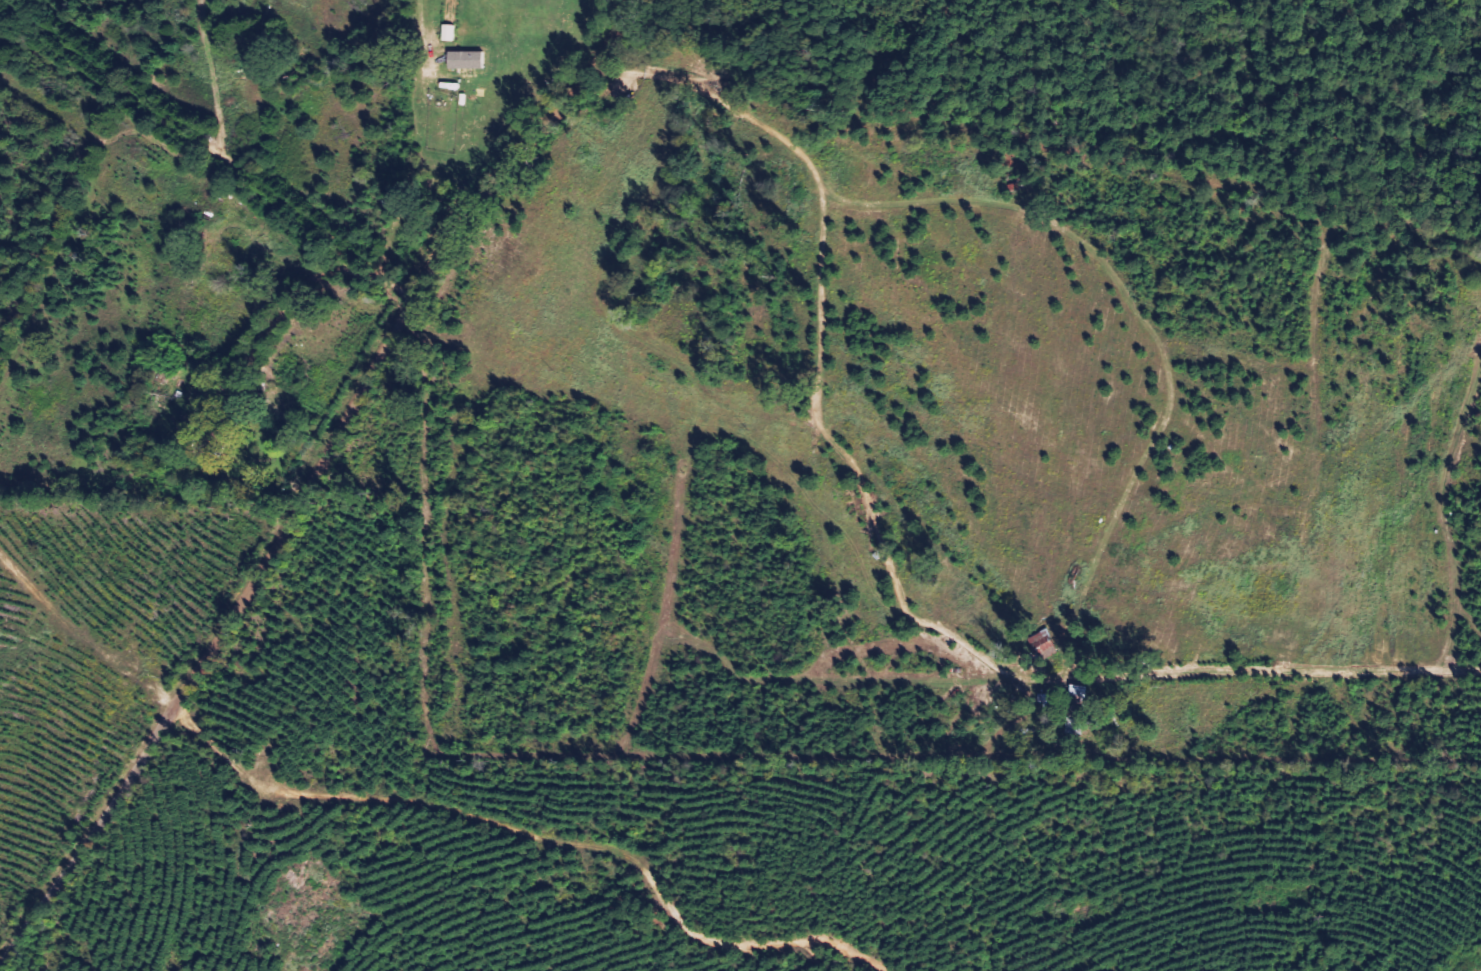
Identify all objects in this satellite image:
building: (453, 33)
building: (474, 60)
building: (255, 65)
road: (320, 482)
road: (539, 836)

